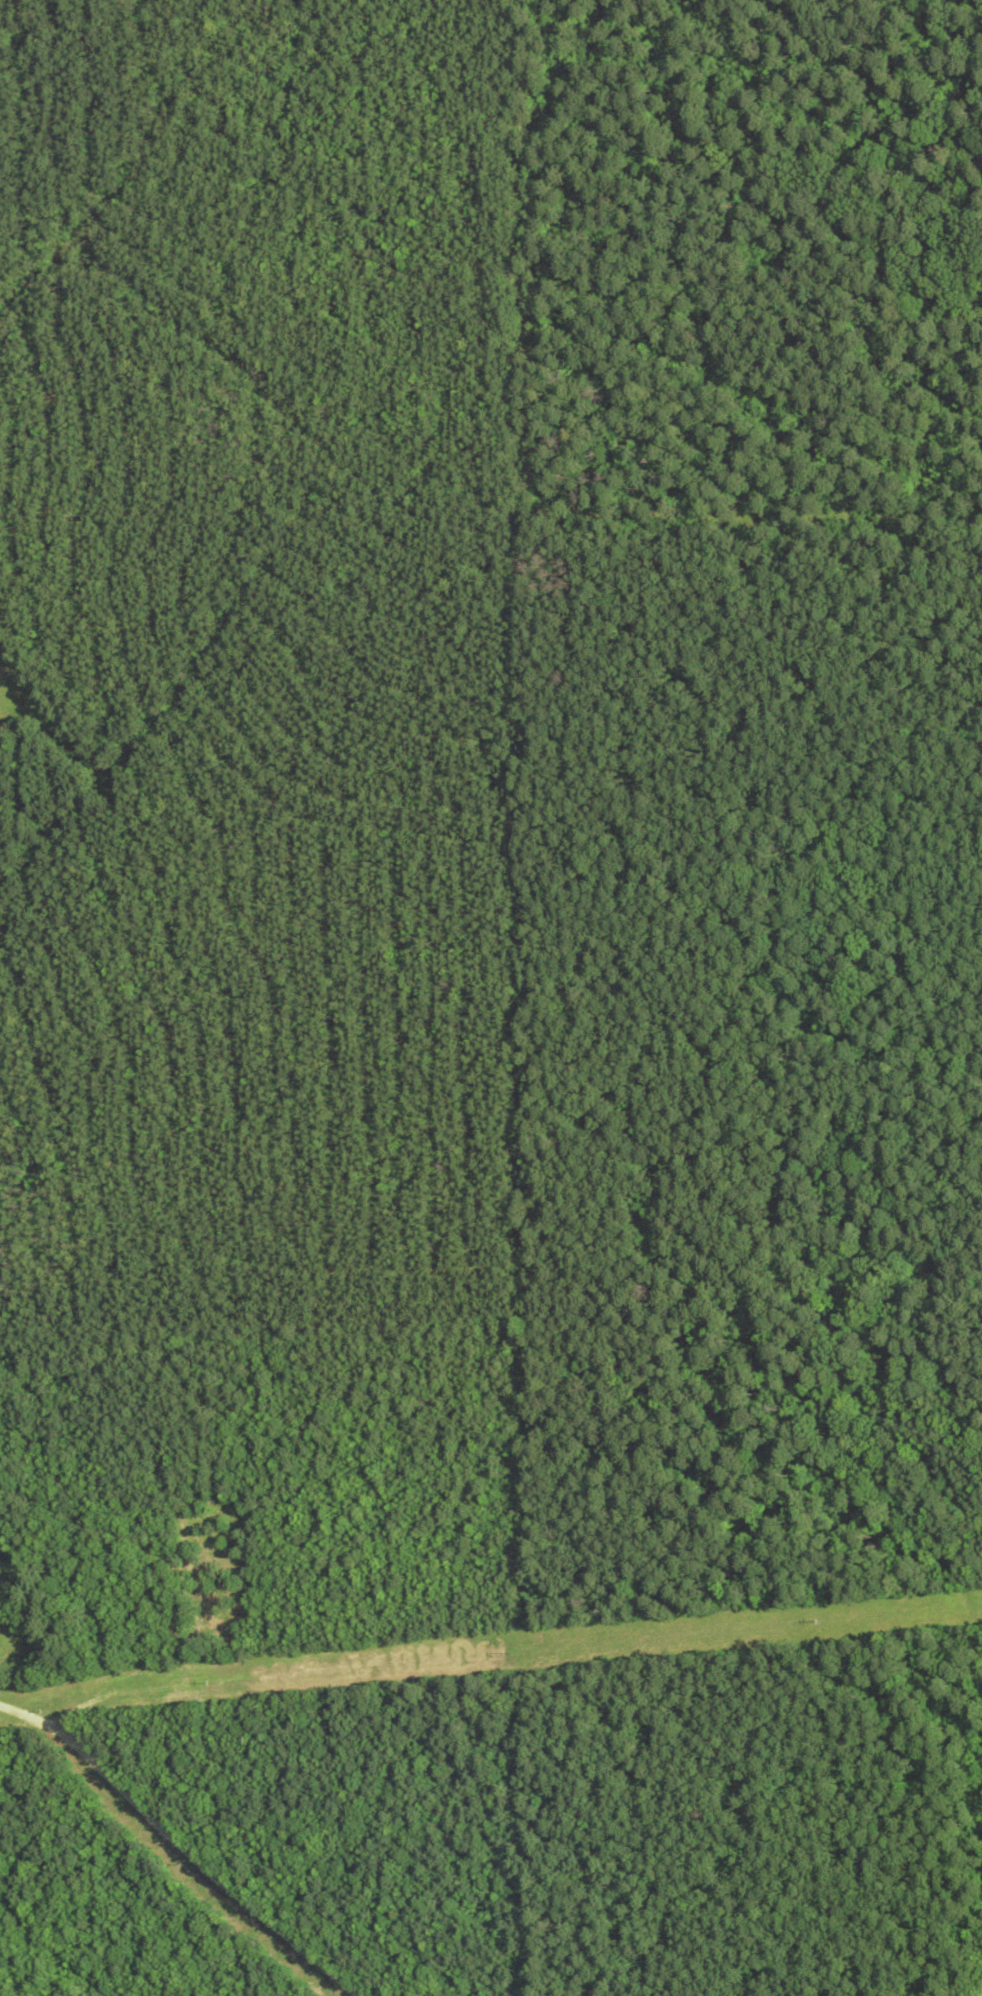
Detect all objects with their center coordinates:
road: (188, 1840)

